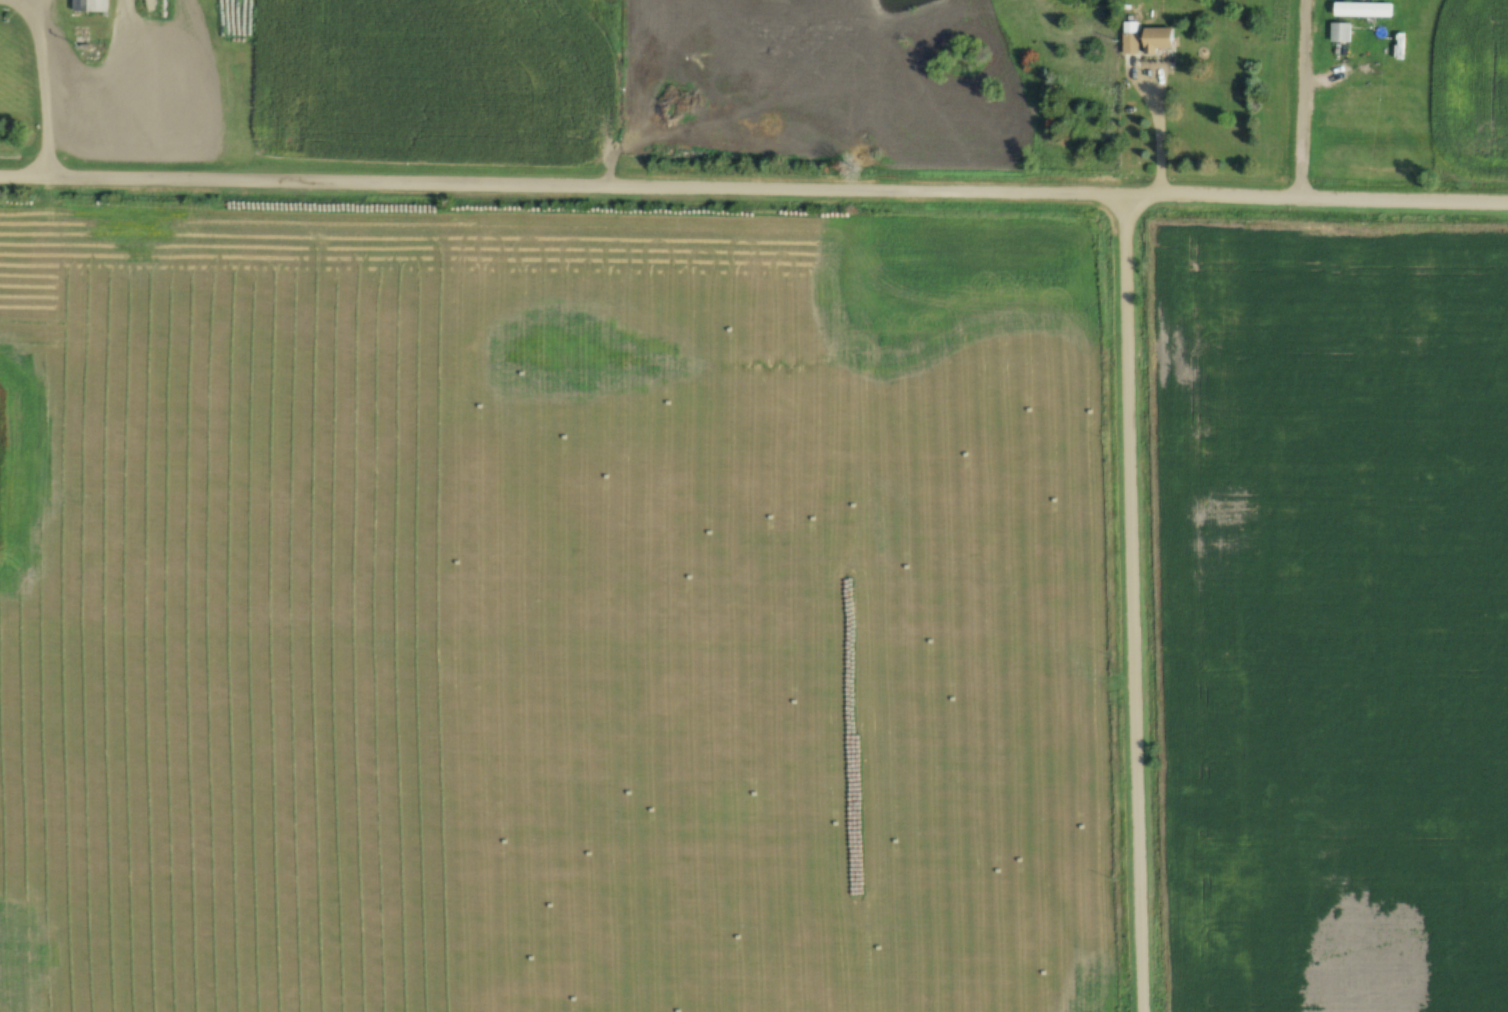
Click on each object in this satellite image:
building: (93, 5)
building: (1365, 9)
building: (1342, 31)
building: (1131, 37)
building: (1161, 38)
road: (46, 82)
road: (1309, 112)
road: (1158, 122)
road: (754, 184)
road: (1135, 601)

